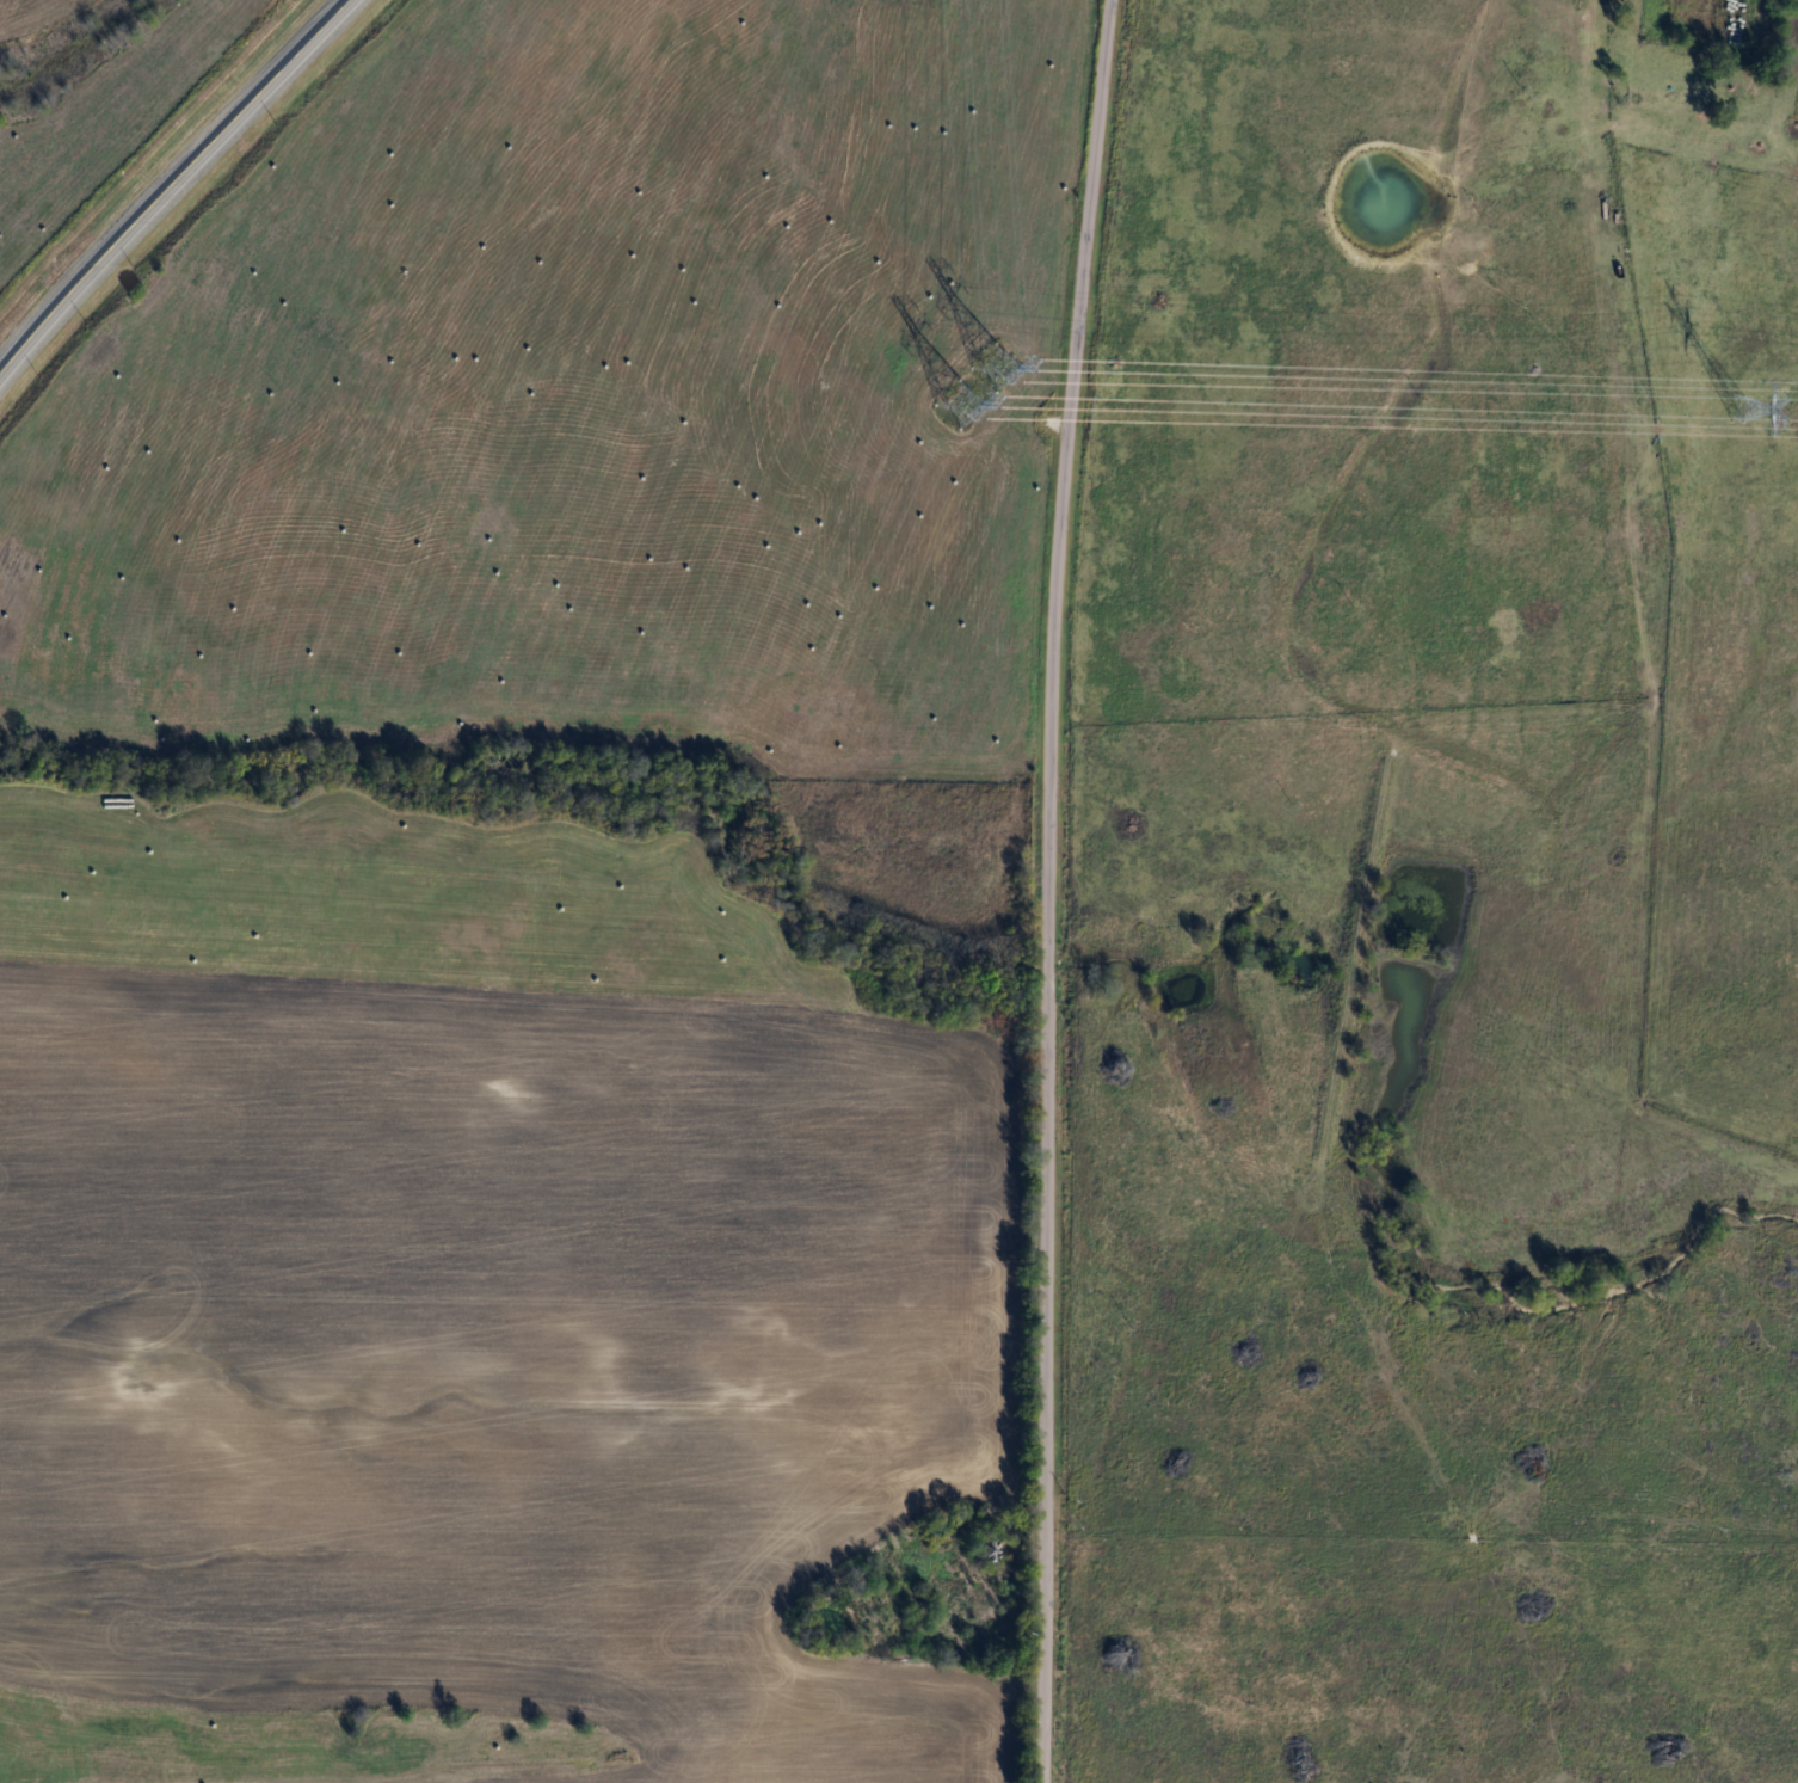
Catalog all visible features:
road: (171, 183)
power tower: (977, 387)
power tower: (1737, 411)
road: (1052, 890)

